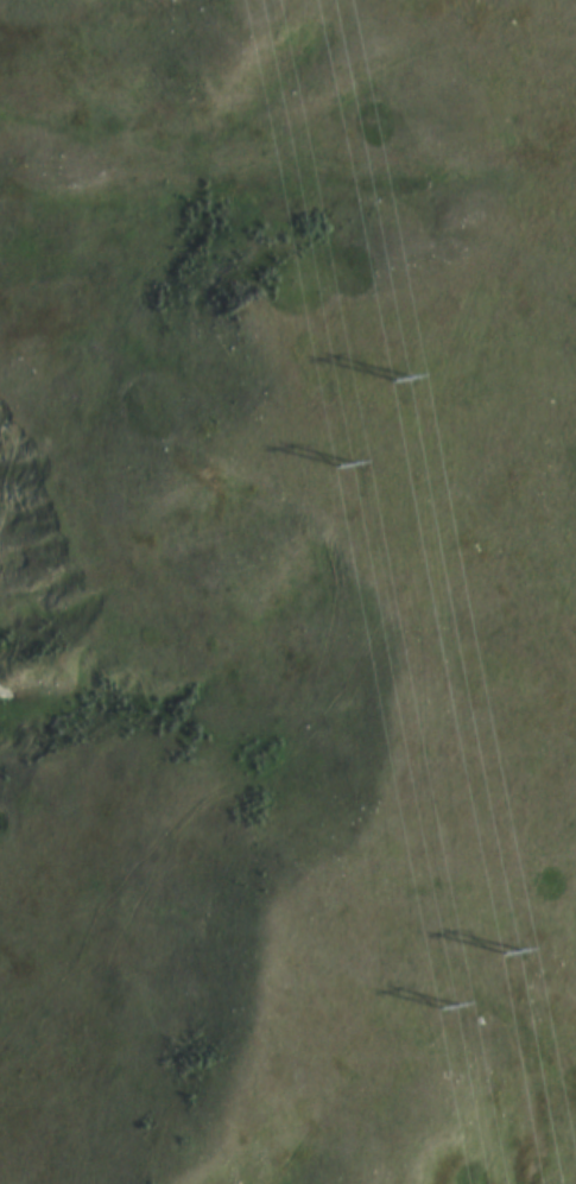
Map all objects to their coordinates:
power tower: (403, 384)
power tower: (350, 474)
power tower: (517, 958)
power tower: (448, 1008)

